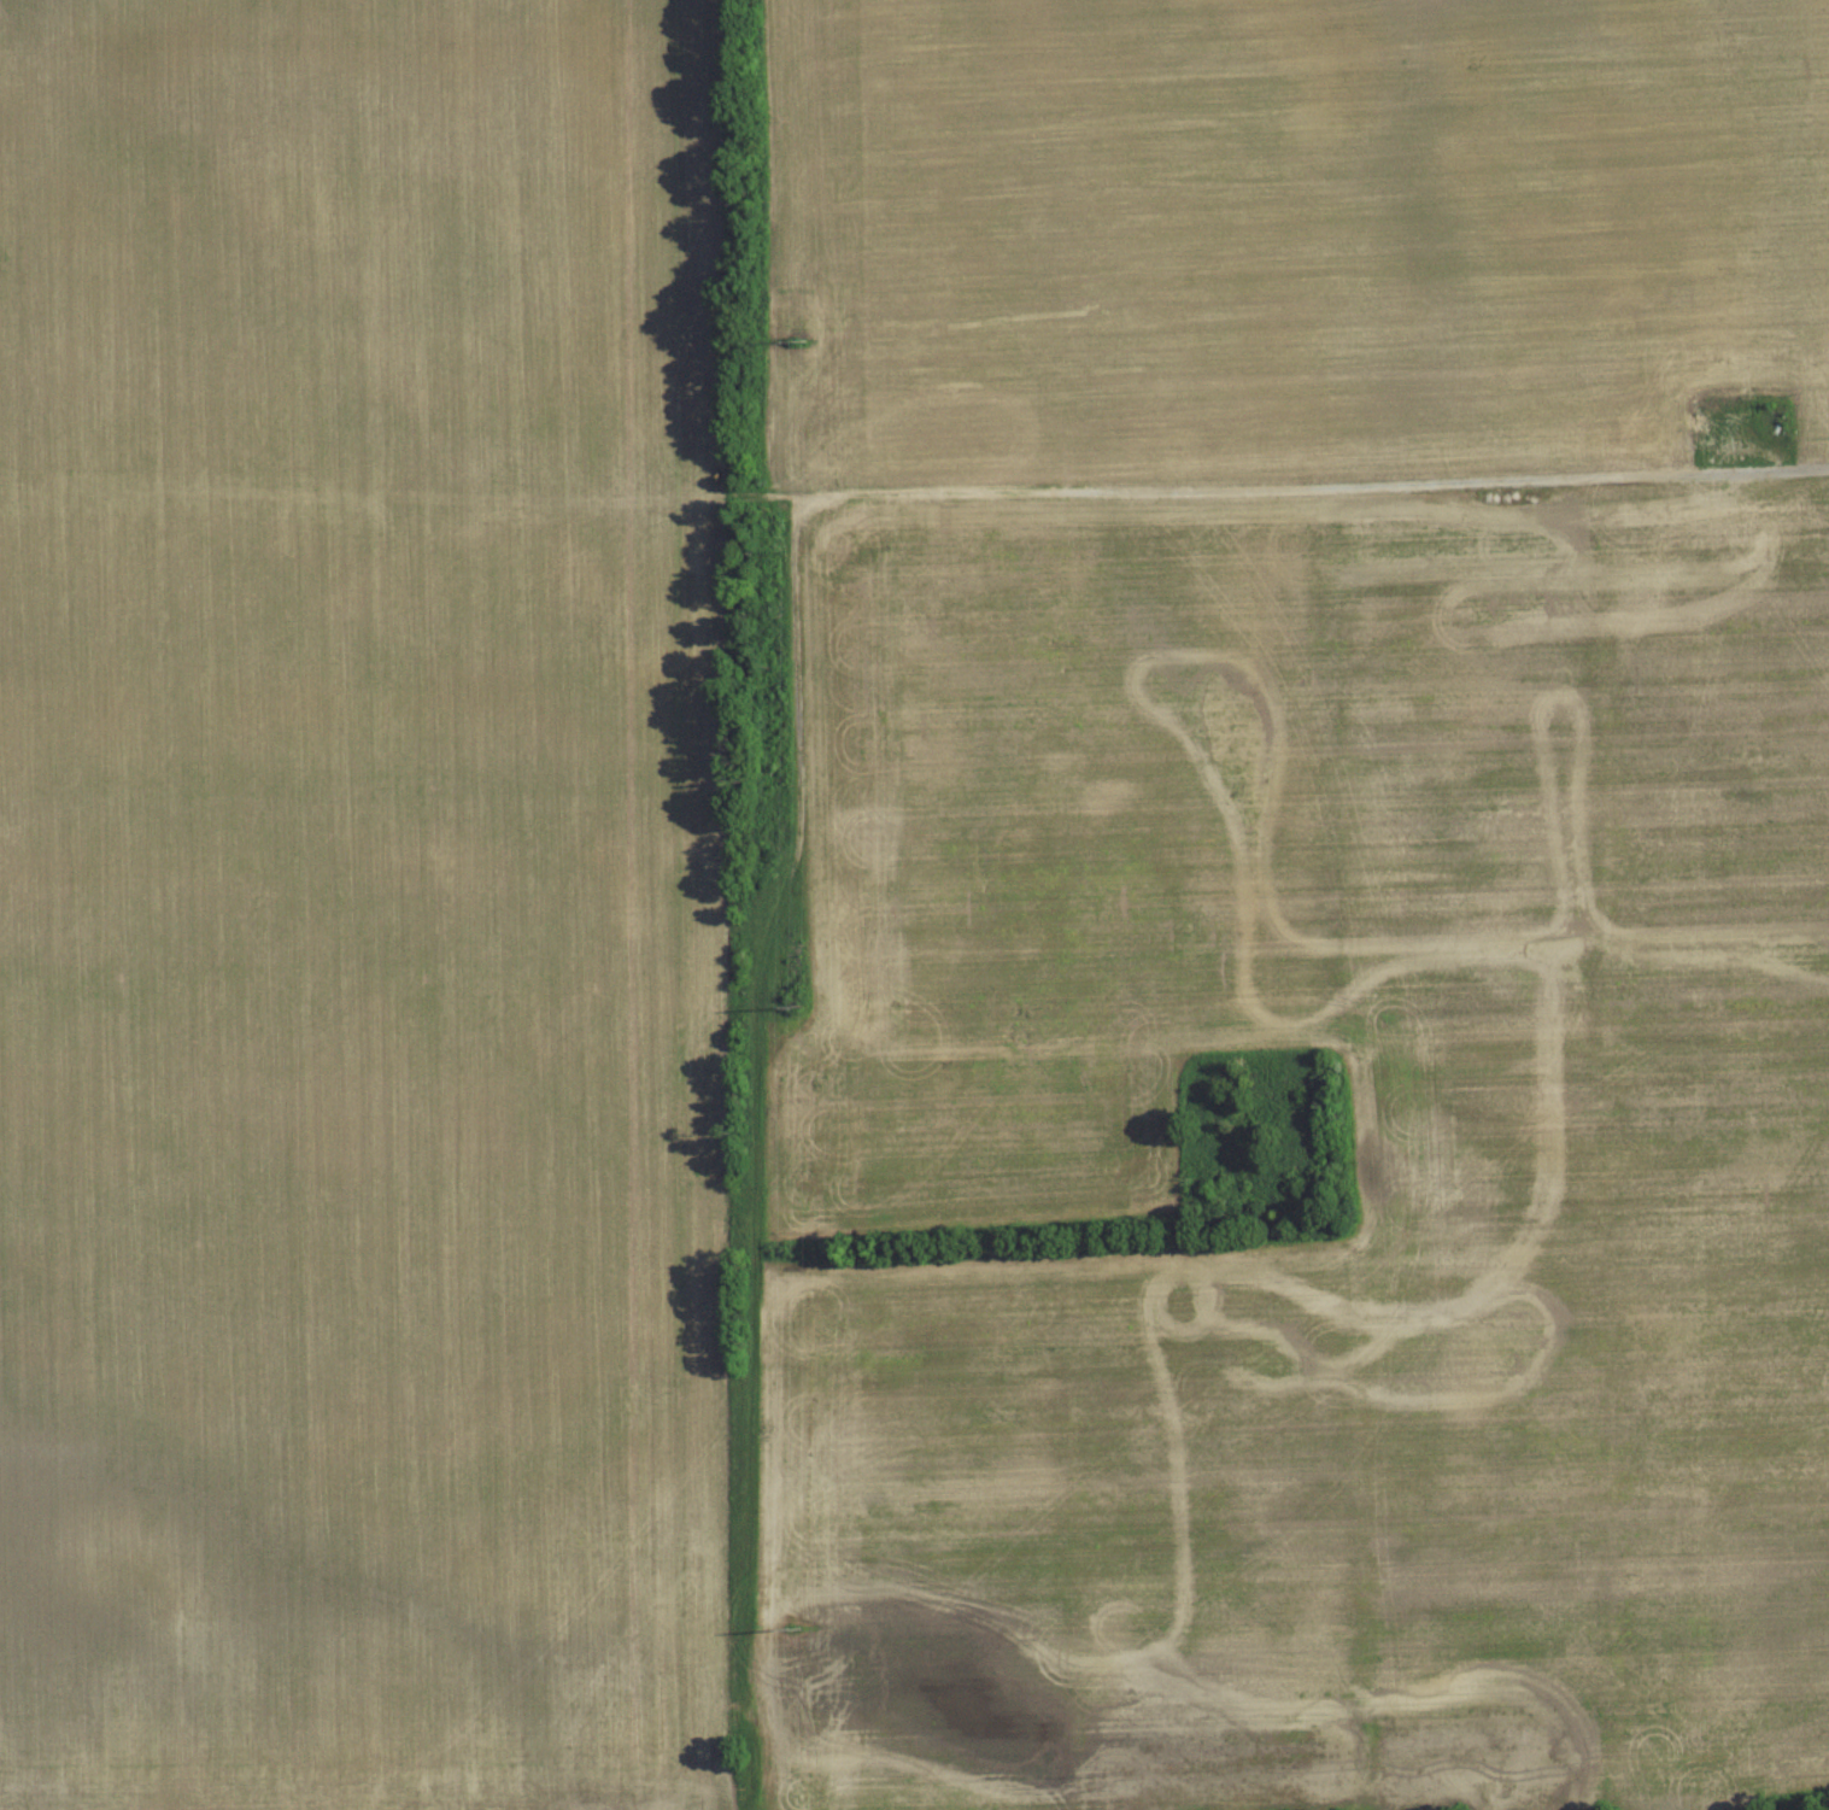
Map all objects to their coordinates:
power tower: (811, 339)
power tower: (808, 1008)
power tower: (808, 1630)

